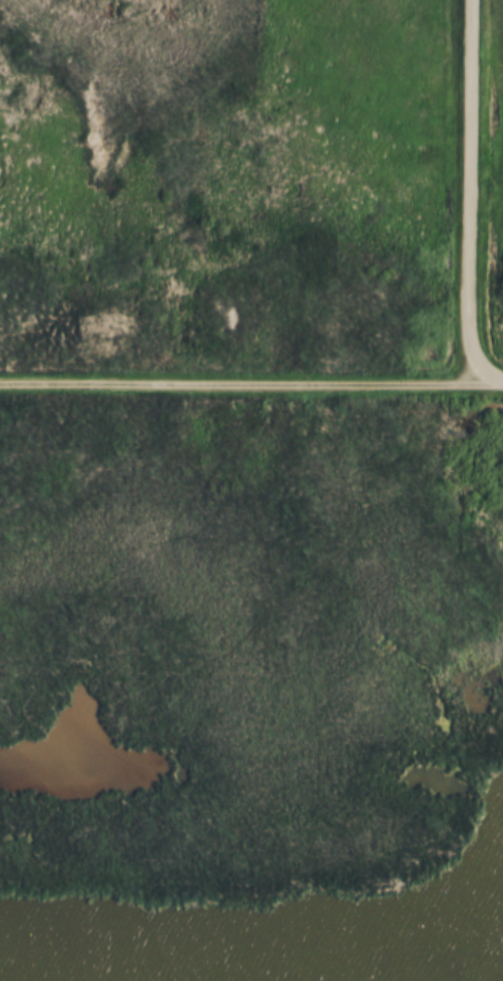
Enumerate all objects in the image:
road: (470, 192)
road: (236, 384)
road: (488, 384)

